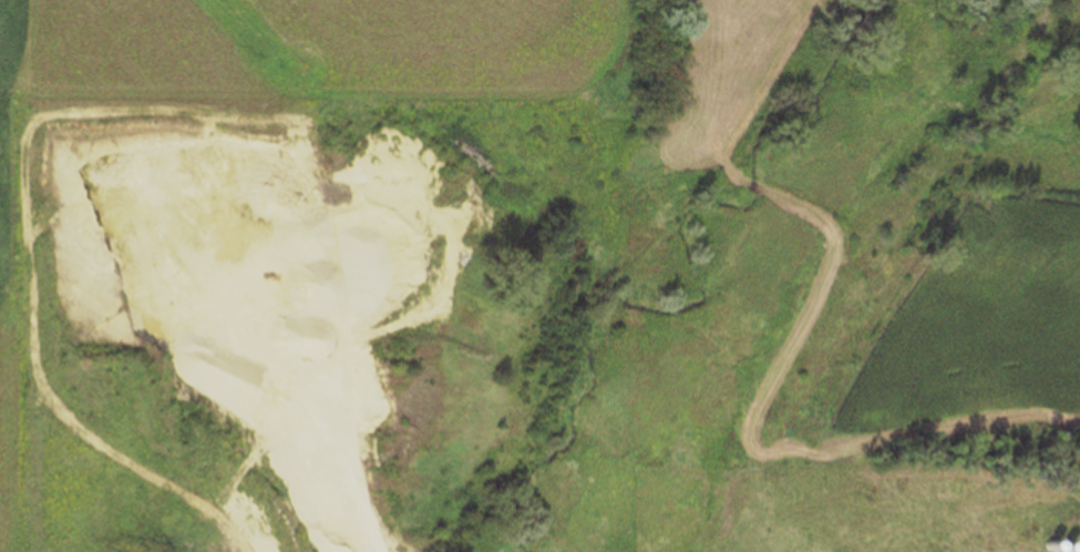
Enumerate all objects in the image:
quarry: (277, 330)
road: (331, 477)

